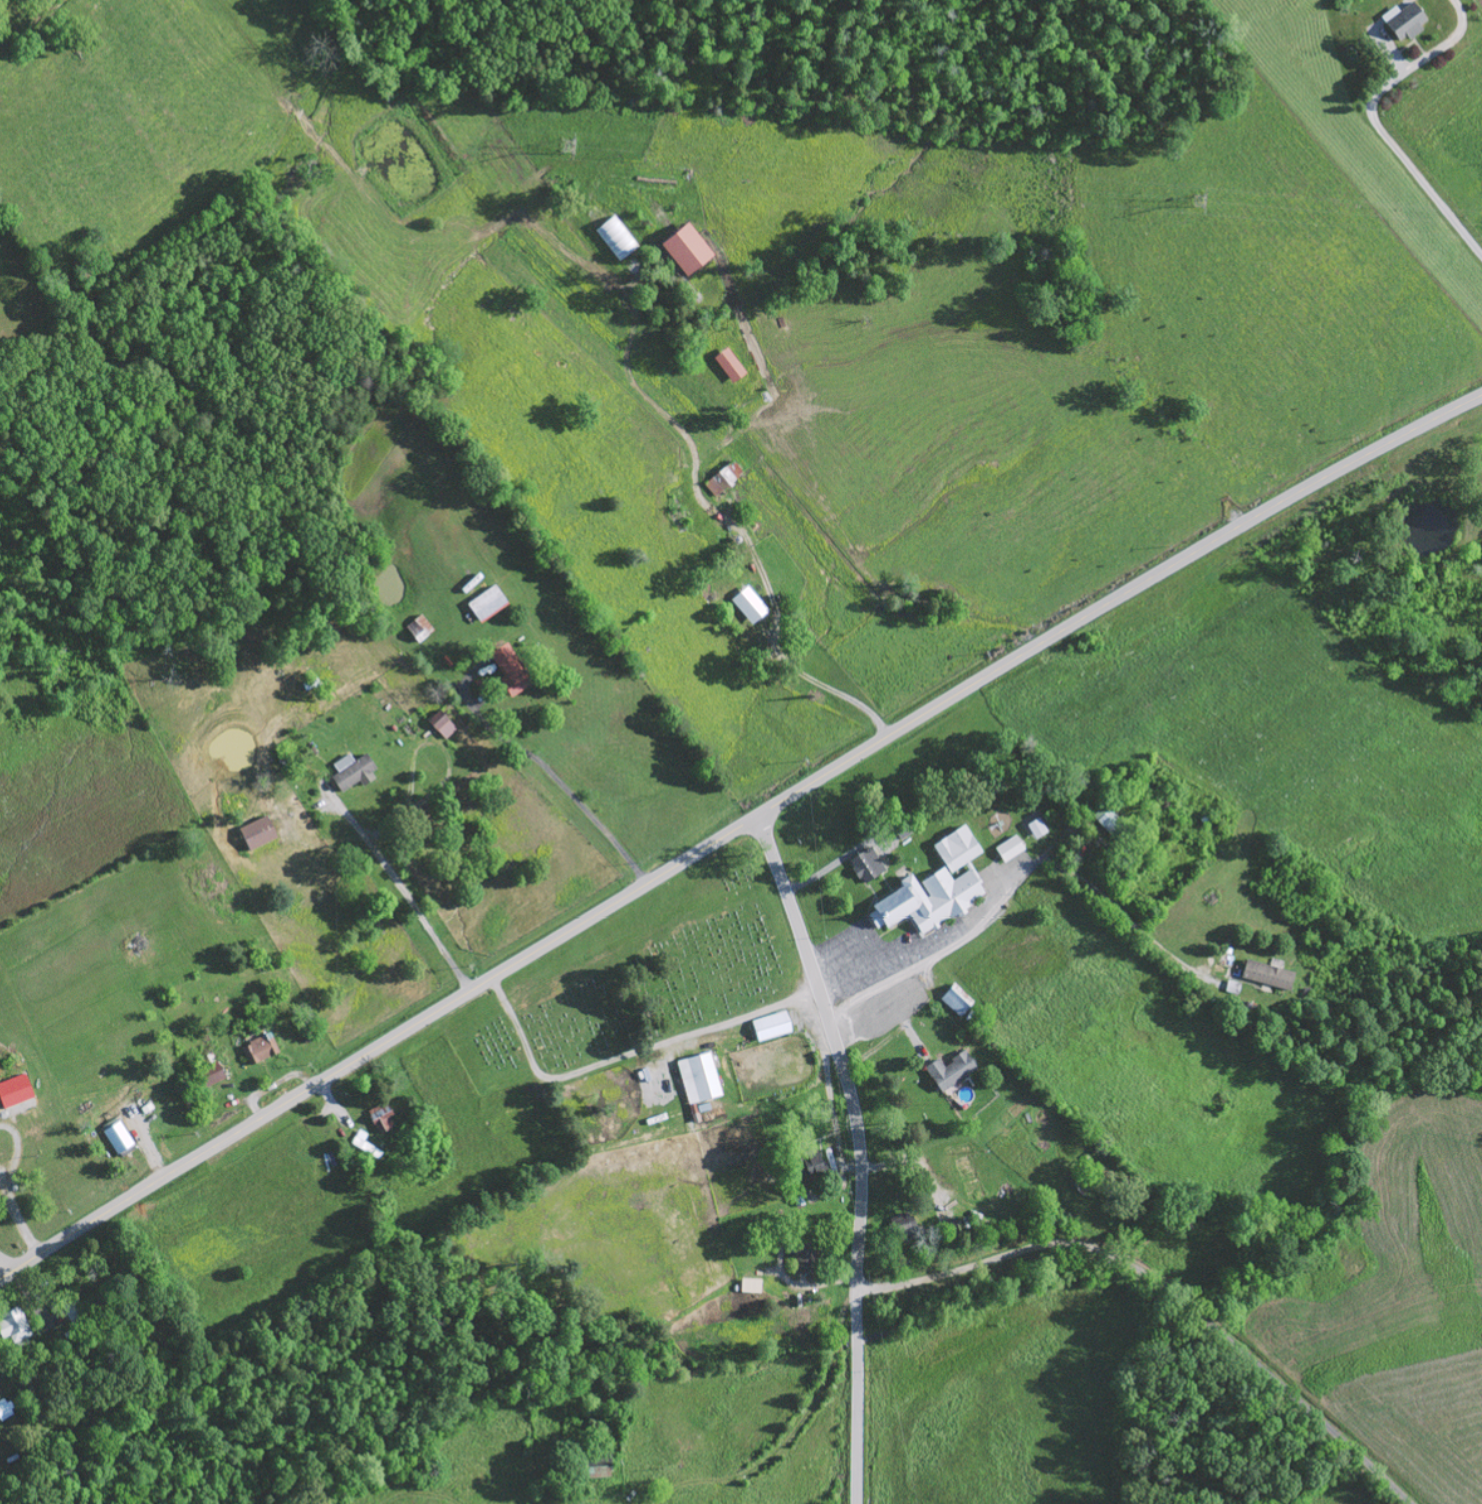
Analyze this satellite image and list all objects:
building: (1408, 20)
power tower: (568, 144)
power tower: (1200, 200)
building: (618, 239)
building: (691, 249)
building: (732, 365)
building: (726, 478)
building: (490, 603)
building: (751, 605)
building: (421, 628)
building: (514, 668)
building: (444, 724)
building: (356, 771)
building: (1108, 818)
building: (1037, 827)
road: (735, 828)
building: (261, 833)
building: (1010, 848)
building: (868, 864)
building: (935, 886)
road: (944, 939)
building: (1271, 974)
park: (649, 985)
building: (957, 1002)
building: (772, 1024)
building: (262, 1049)
road: (626, 1055)
building: (953, 1070)
building: (214, 1074)
building: (699, 1076)
building: (17, 1091)
building: (383, 1119)
building: (120, 1138)
building: (366, 1144)
road: (860, 1151)
building: (816, 1166)
building: (808, 1256)
road: (5, 1266)
building: (753, 1285)
road: (1161, 1301)
building: (16, 1325)
building: (6, 1409)
road: (746, 1471)

